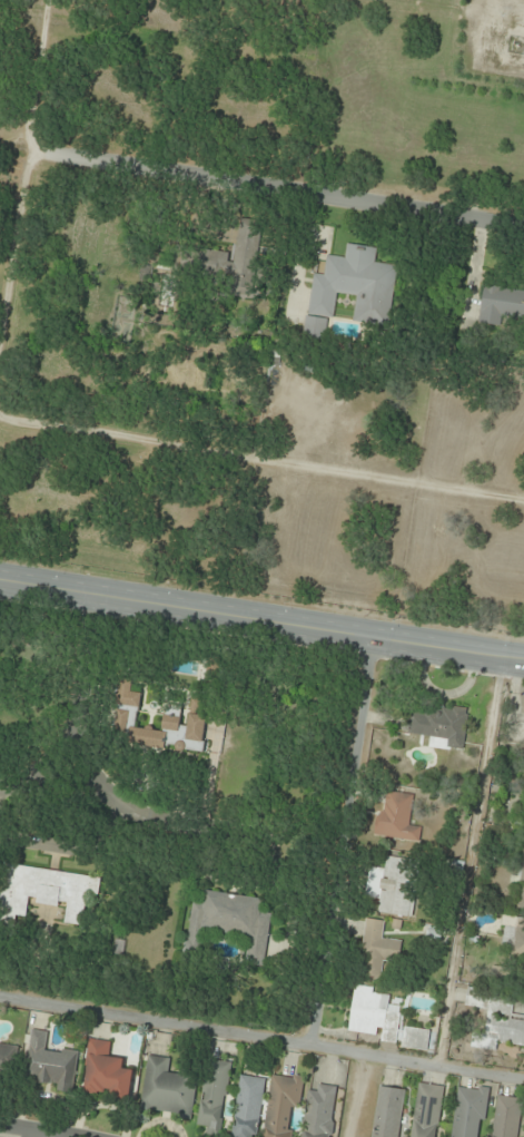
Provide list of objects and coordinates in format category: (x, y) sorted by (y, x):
road: (1, 156)
road: (364, 195)
building: (236, 265)
building: (355, 285)
building: (503, 303)
road: (261, 623)
road: (85, 715)
building: (179, 715)
building: (439, 726)
road: (134, 815)
building: (397, 819)
road: (340, 842)
building: (522, 880)
building: (394, 888)
building: (47, 891)
building: (230, 922)
building: (376, 951)
building: (520, 953)
building: (373, 1016)
building: (494, 1022)
road: (261, 1038)
building: (419, 1040)
building: (8, 1061)
building: (49, 1064)
building: (106, 1072)
building: (167, 1089)
building: (214, 1096)
building: (283, 1105)
building: (248, 1107)
building: (427, 1110)
building: (319, 1111)
building: (388, 1111)
building: (469, 1111)
building: (507, 1117)
road: (33, 1130)

